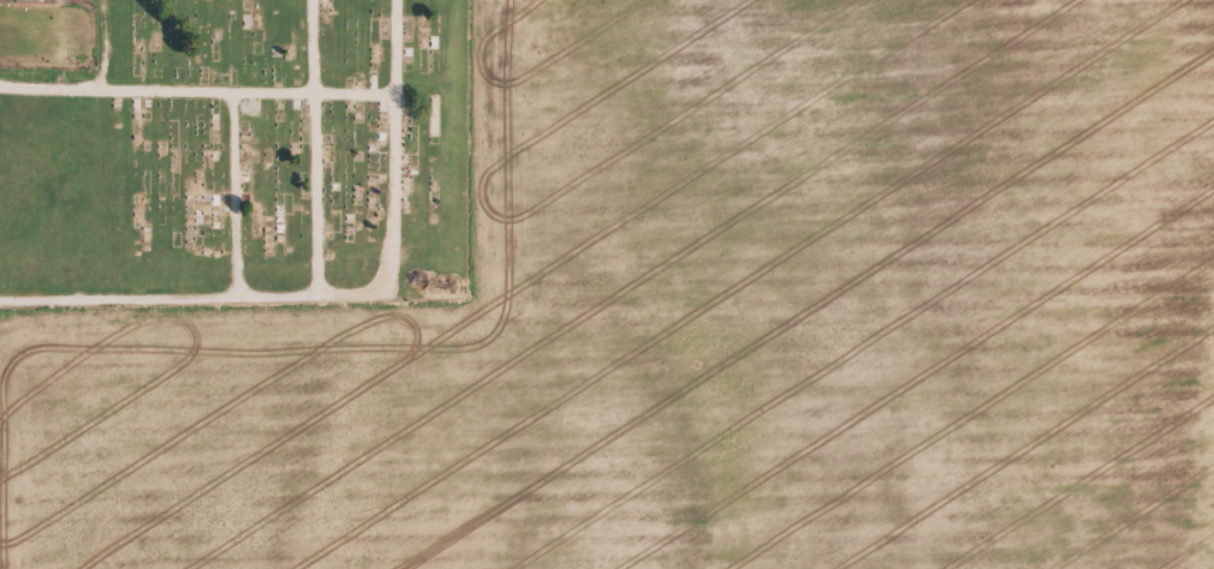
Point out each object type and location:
road: (481, 25)
park: (299, 151)

